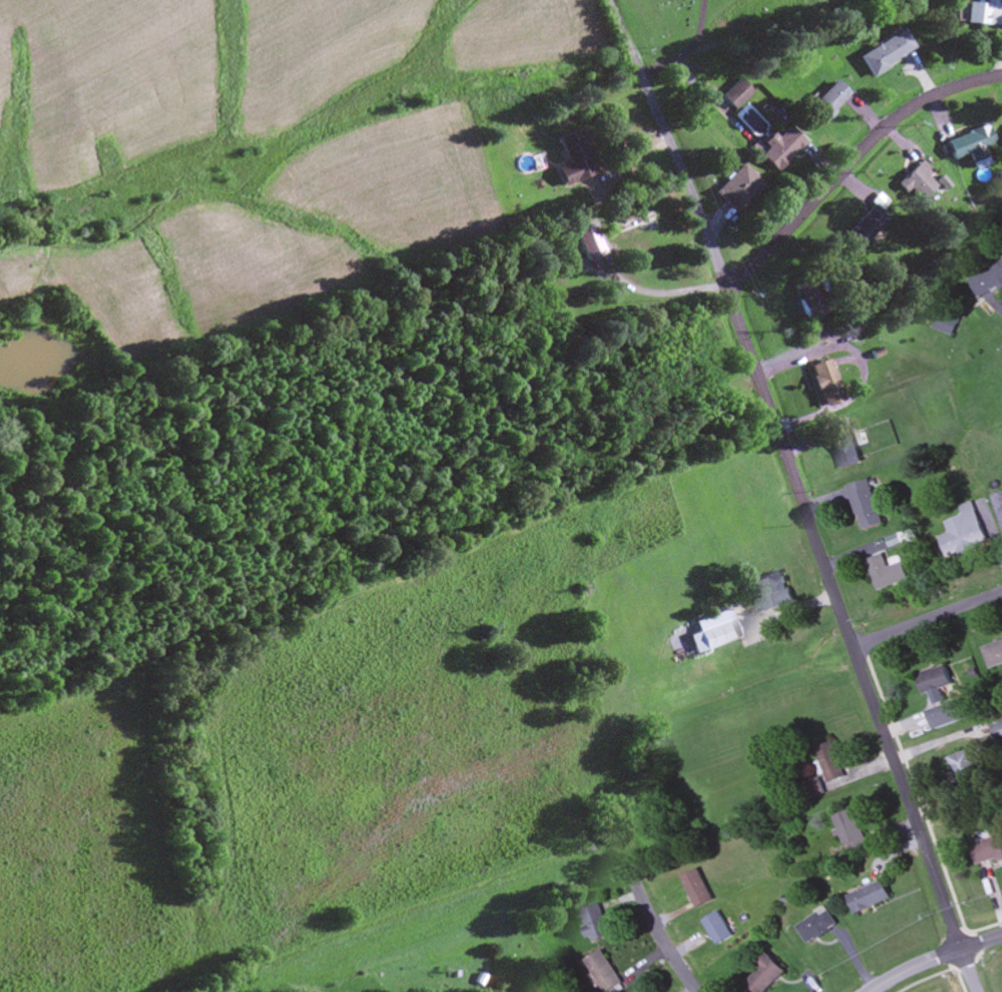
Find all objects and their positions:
building: (982, 14)
park: (673, 21)
road: (701, 26)
road: (735, 36)
building: (884, 53)
building: (735, 95)
building: (826, 102)
building: (968, 145)
building: (778, 147)
building: (573, 158)
road: (849, 162)
building: (916, 183)
building: (735, 188)
building: (865, 222)
building: (986, 278)
building: (806, 297)
building: (945, 321)
building: (850, 327)
building: (822, 383)
building: (845, 446)
road: (798, 494)
building: (865, 503)
building: (963, 532)
building: (885, 571)
building: (770, 590)
road: (927, 620)
building: (716, 629)
building: (932, 679)
building: (946, 714)
building: (997, 731)
building: (827, 762)
building: (963, 770)
building: (848, 829)
building: (987, 849)
building: (693, 888)
building: (868, 897)
building: (593, 922)
building: (814, 925)
building: (713, 928)
road: (662, 940)
road: (934, 959)
building: (601, 971)
building: (761, 976)

